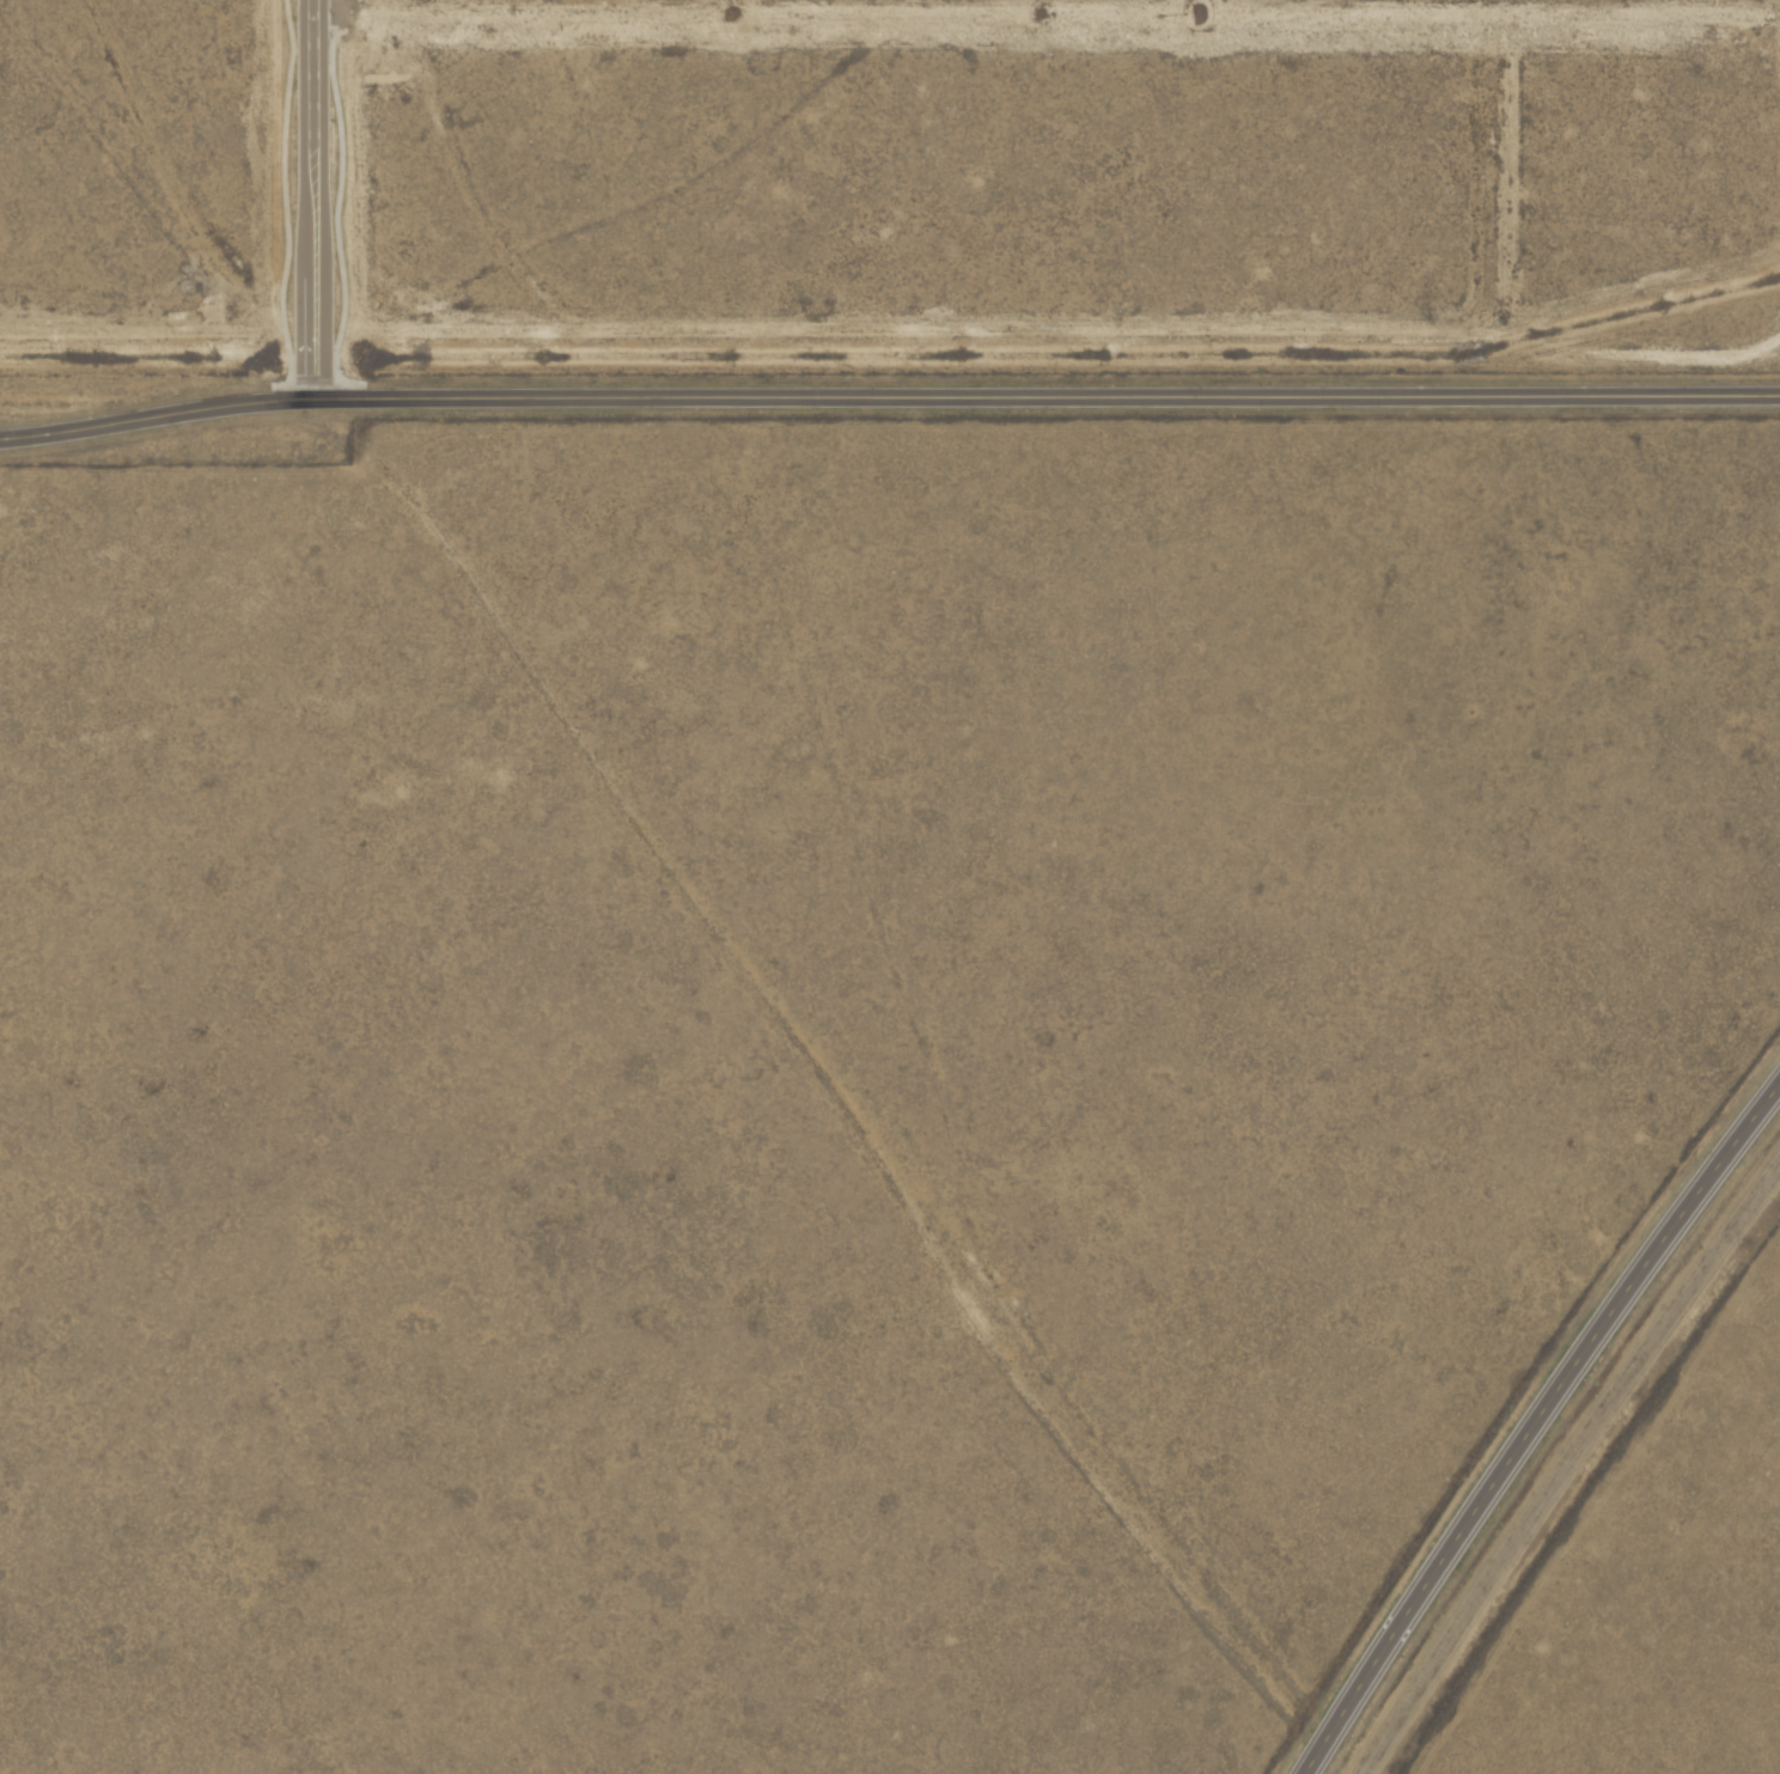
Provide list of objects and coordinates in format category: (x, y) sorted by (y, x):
airport: (892, 181)
road: (310, 196)
road: (888, 389)
road: (1526, 1413)

